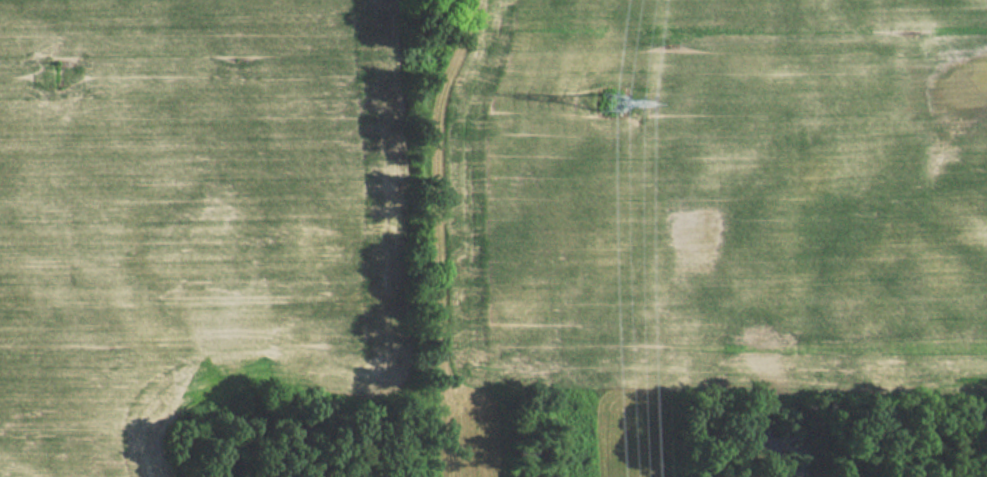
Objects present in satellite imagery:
power tower: (608, 114)
crop: (712, 203)

